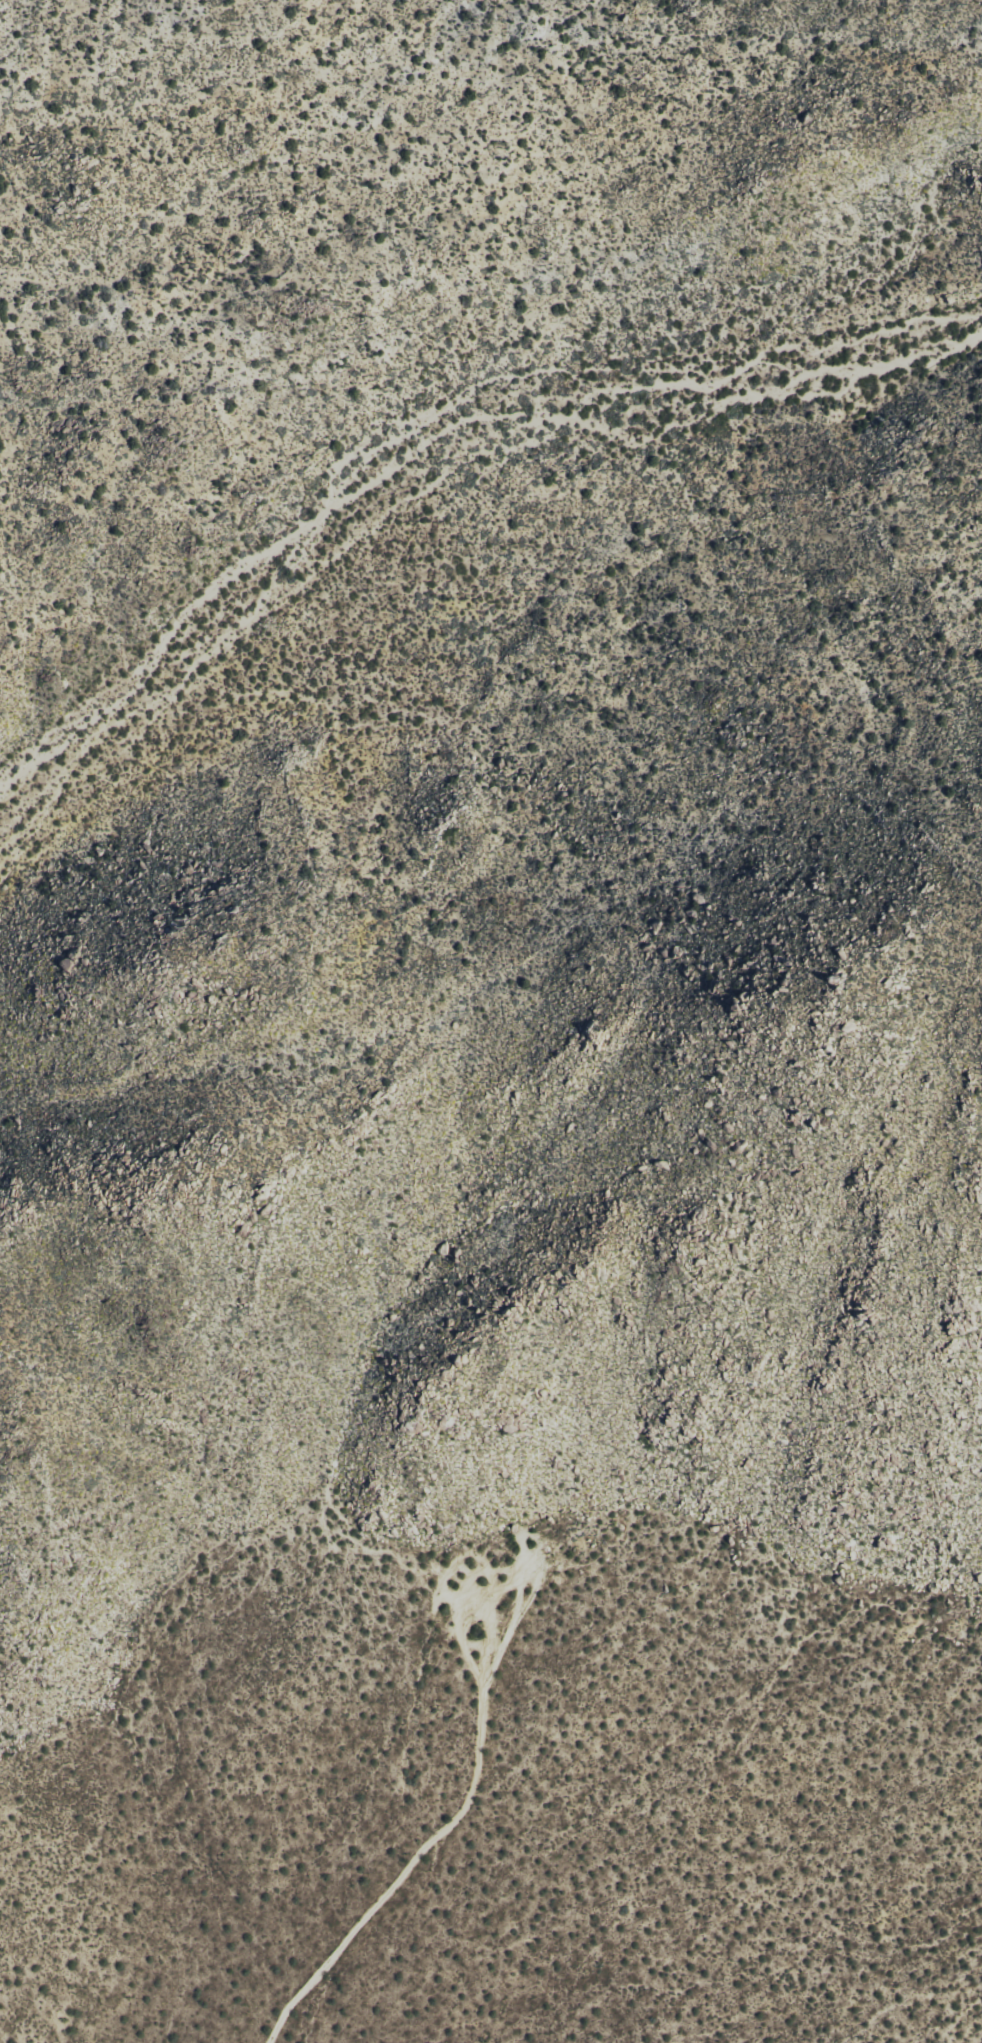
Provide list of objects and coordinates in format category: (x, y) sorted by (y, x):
road: (447, 1819)

